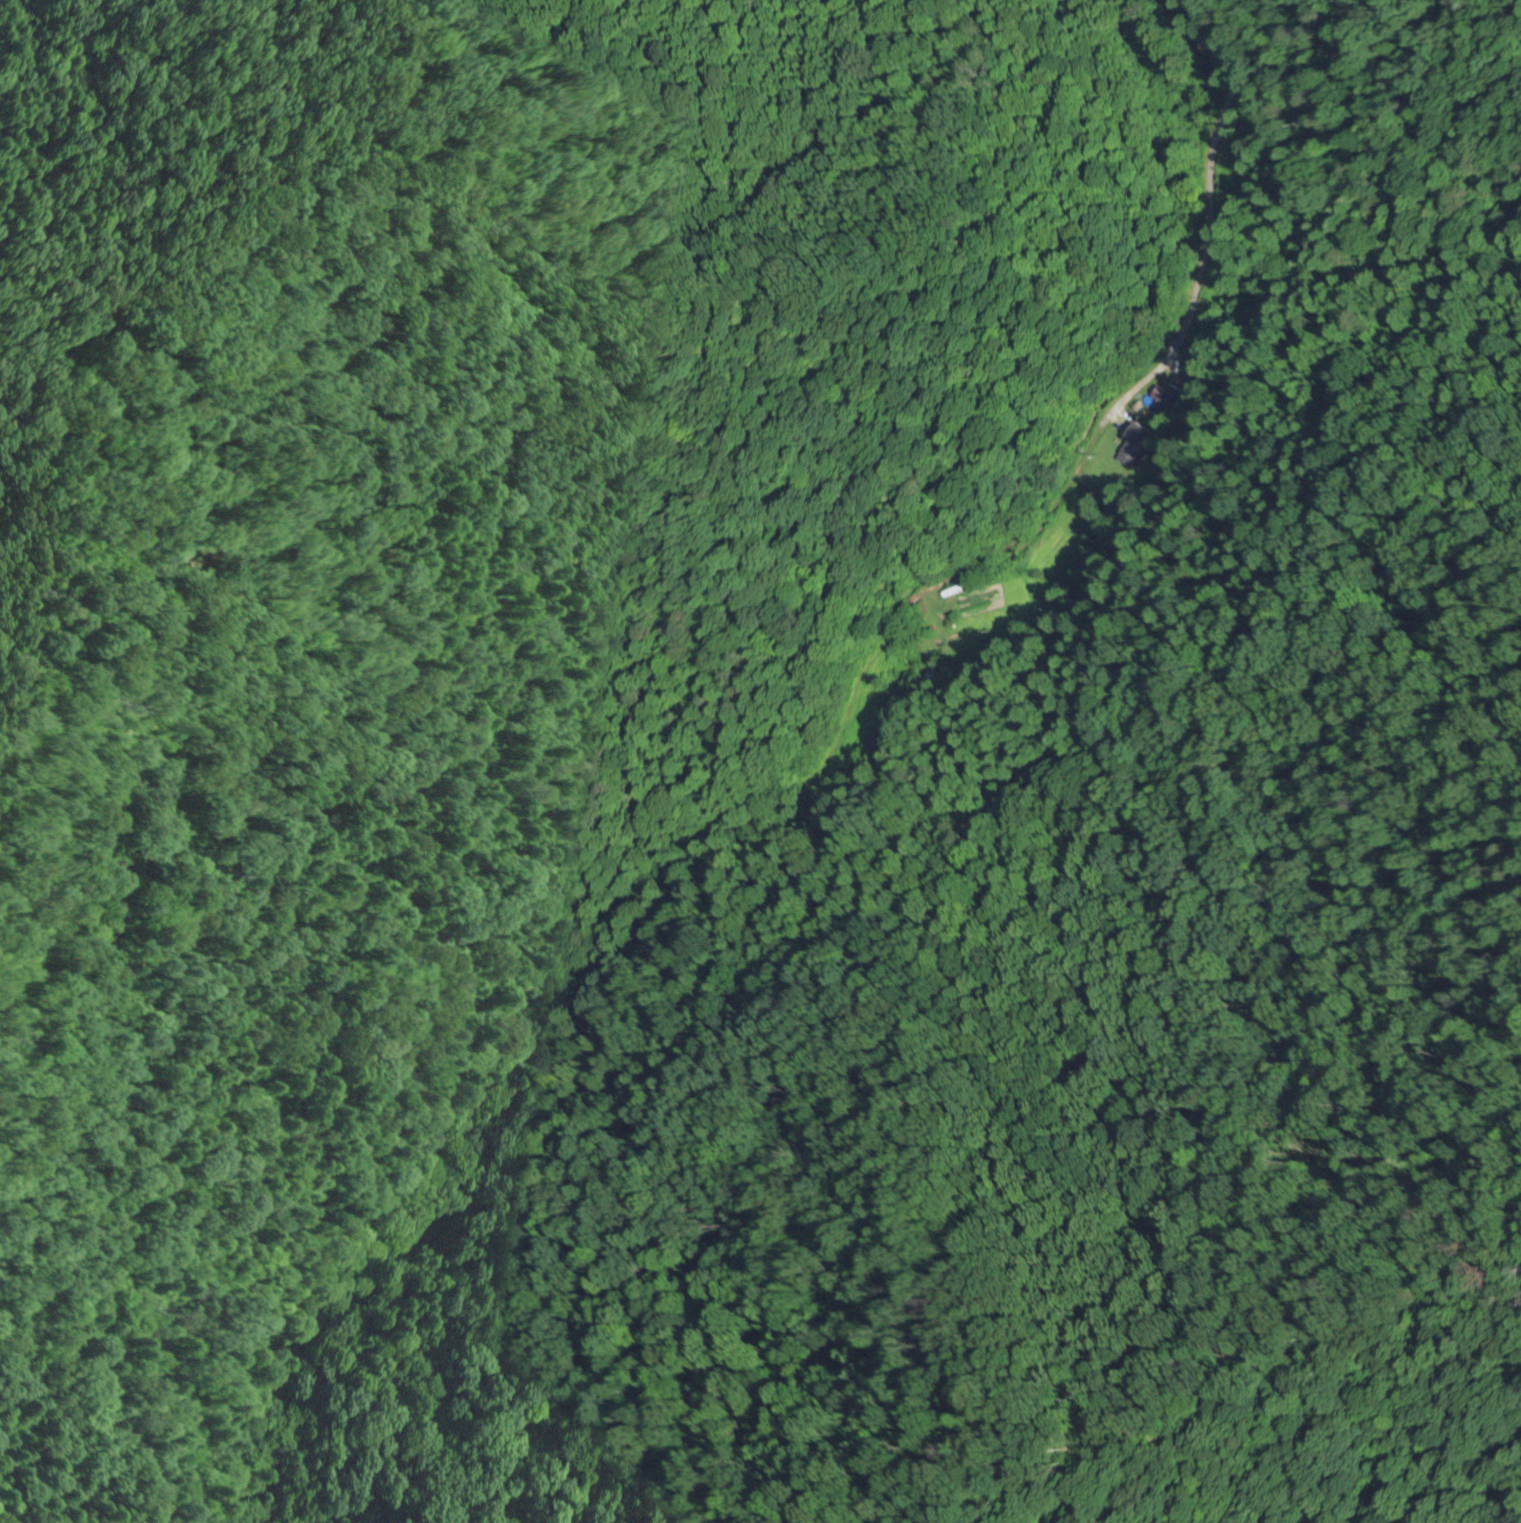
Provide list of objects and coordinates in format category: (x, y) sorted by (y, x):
road: (1207, 217)
building: (1168, 403)
building: (1137, 446)

